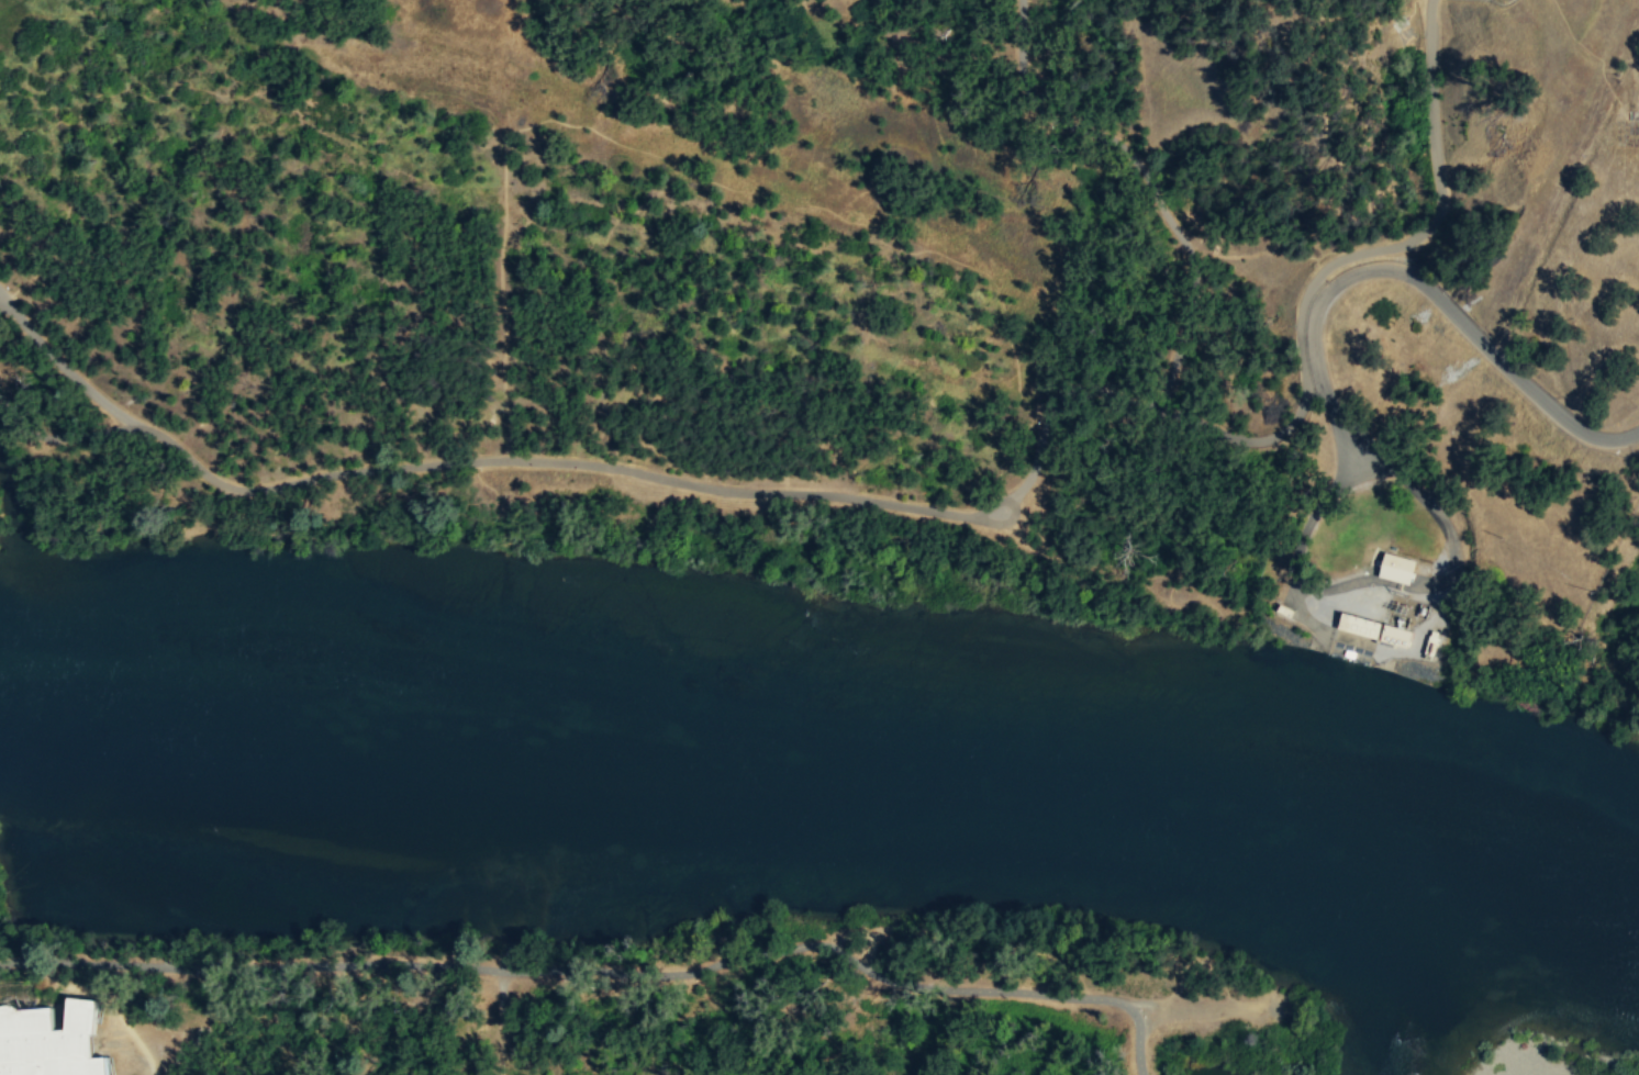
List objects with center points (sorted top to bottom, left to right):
road: (896, 60)
road: (1146, 179)
road: (1338, 260)
park: (773, 271)
road: (1416, 280)
road: (59, 365)
road: (601, 466)
road: (1160, 526)
power substation: (1360, 553)
building: (1396, 568)
road: (1064, 571)
road: (1167, 614)
building: (1361, 624)
building: (1398, 634)
river: (827, 743)
road: (606, 971)
road: (104, 996)
park: (653, 1003)
road: (1209, 1008)
road: (500, 1022)
building: (47, 1041)

